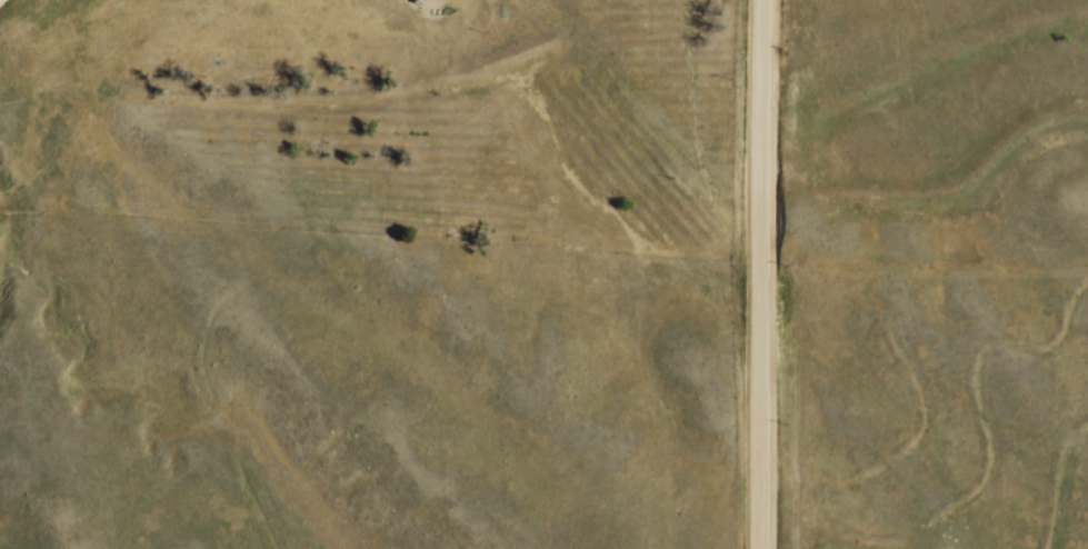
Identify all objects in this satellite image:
road: (761, 273)

